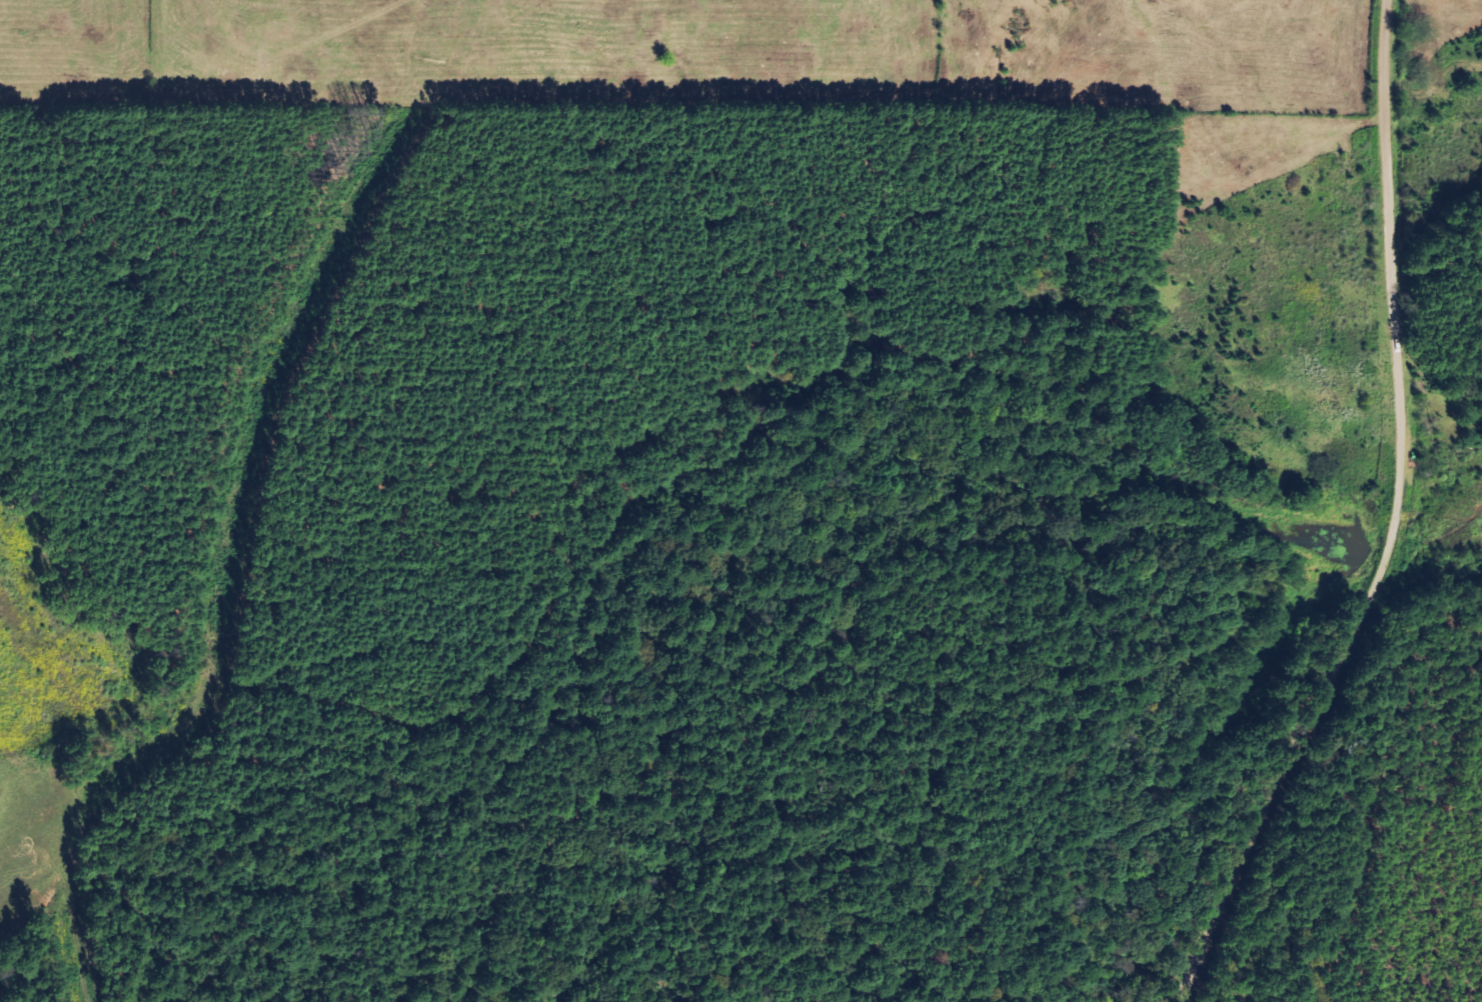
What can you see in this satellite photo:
road: (1393, 522)

